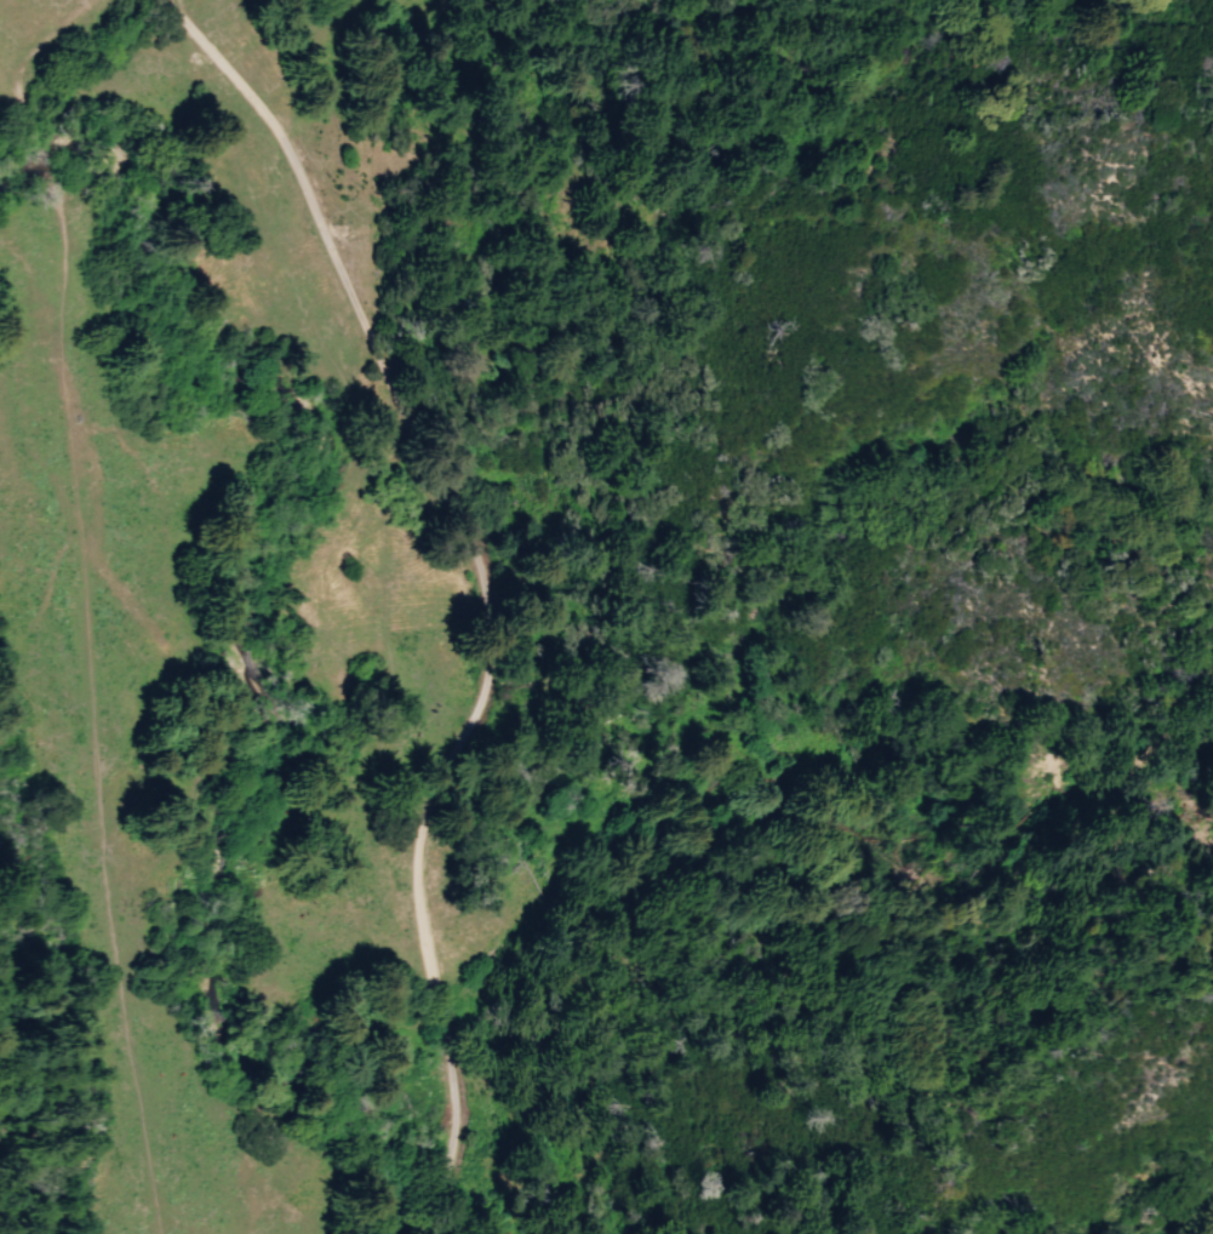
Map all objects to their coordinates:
road: (493, 579)
road: (76, 602)

